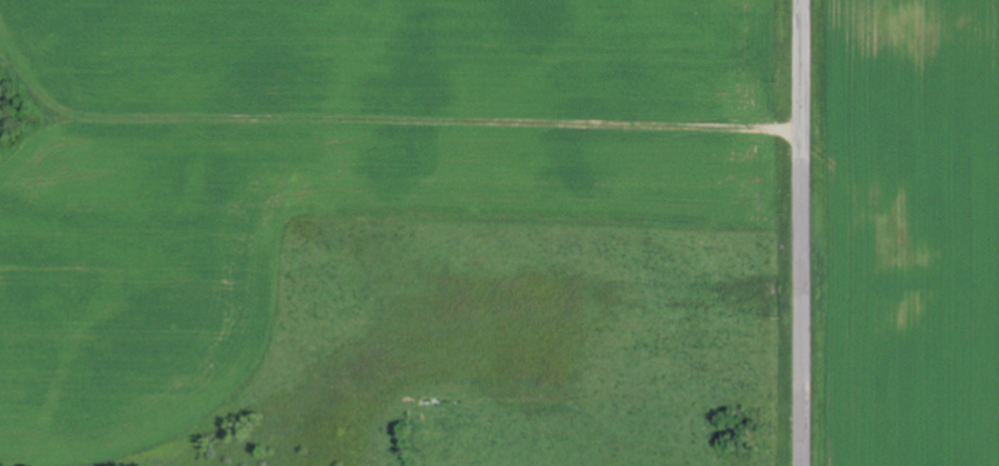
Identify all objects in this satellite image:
road: (805, 233)

